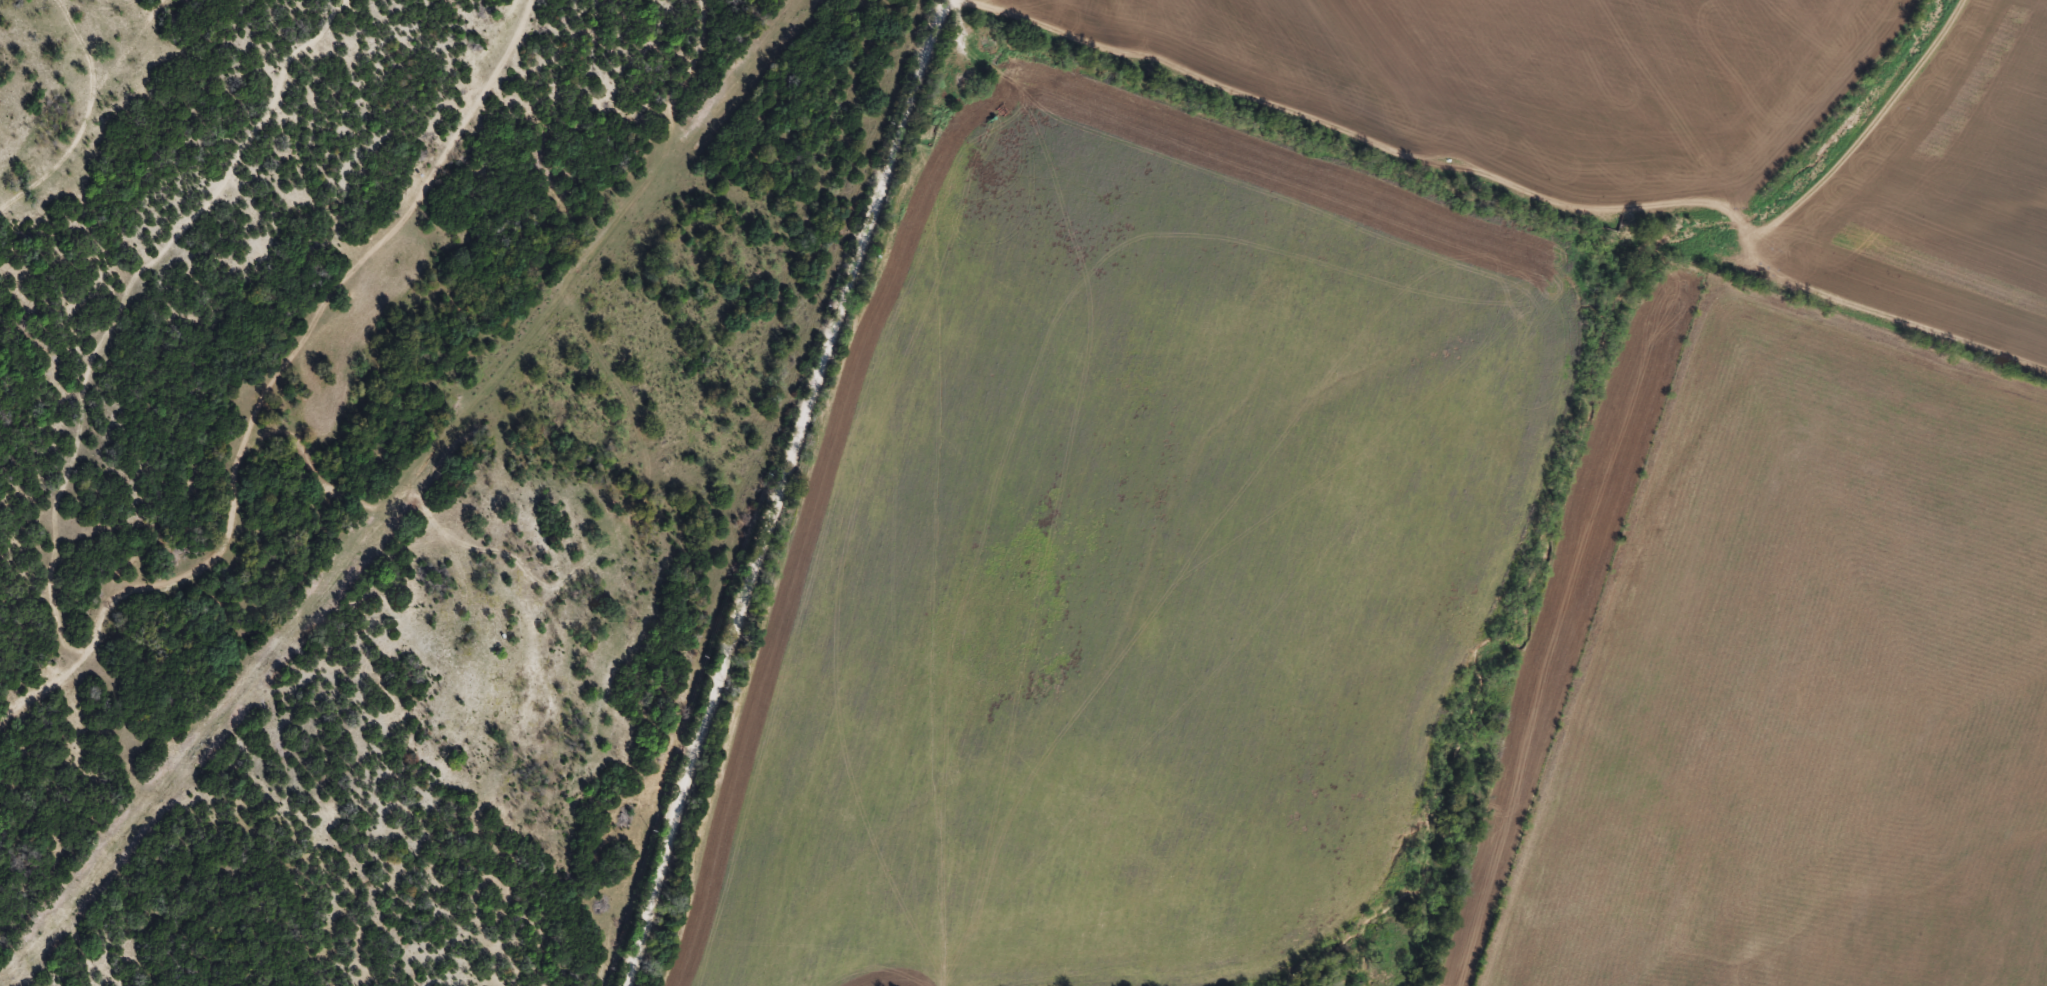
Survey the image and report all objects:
road: (791, 493)

